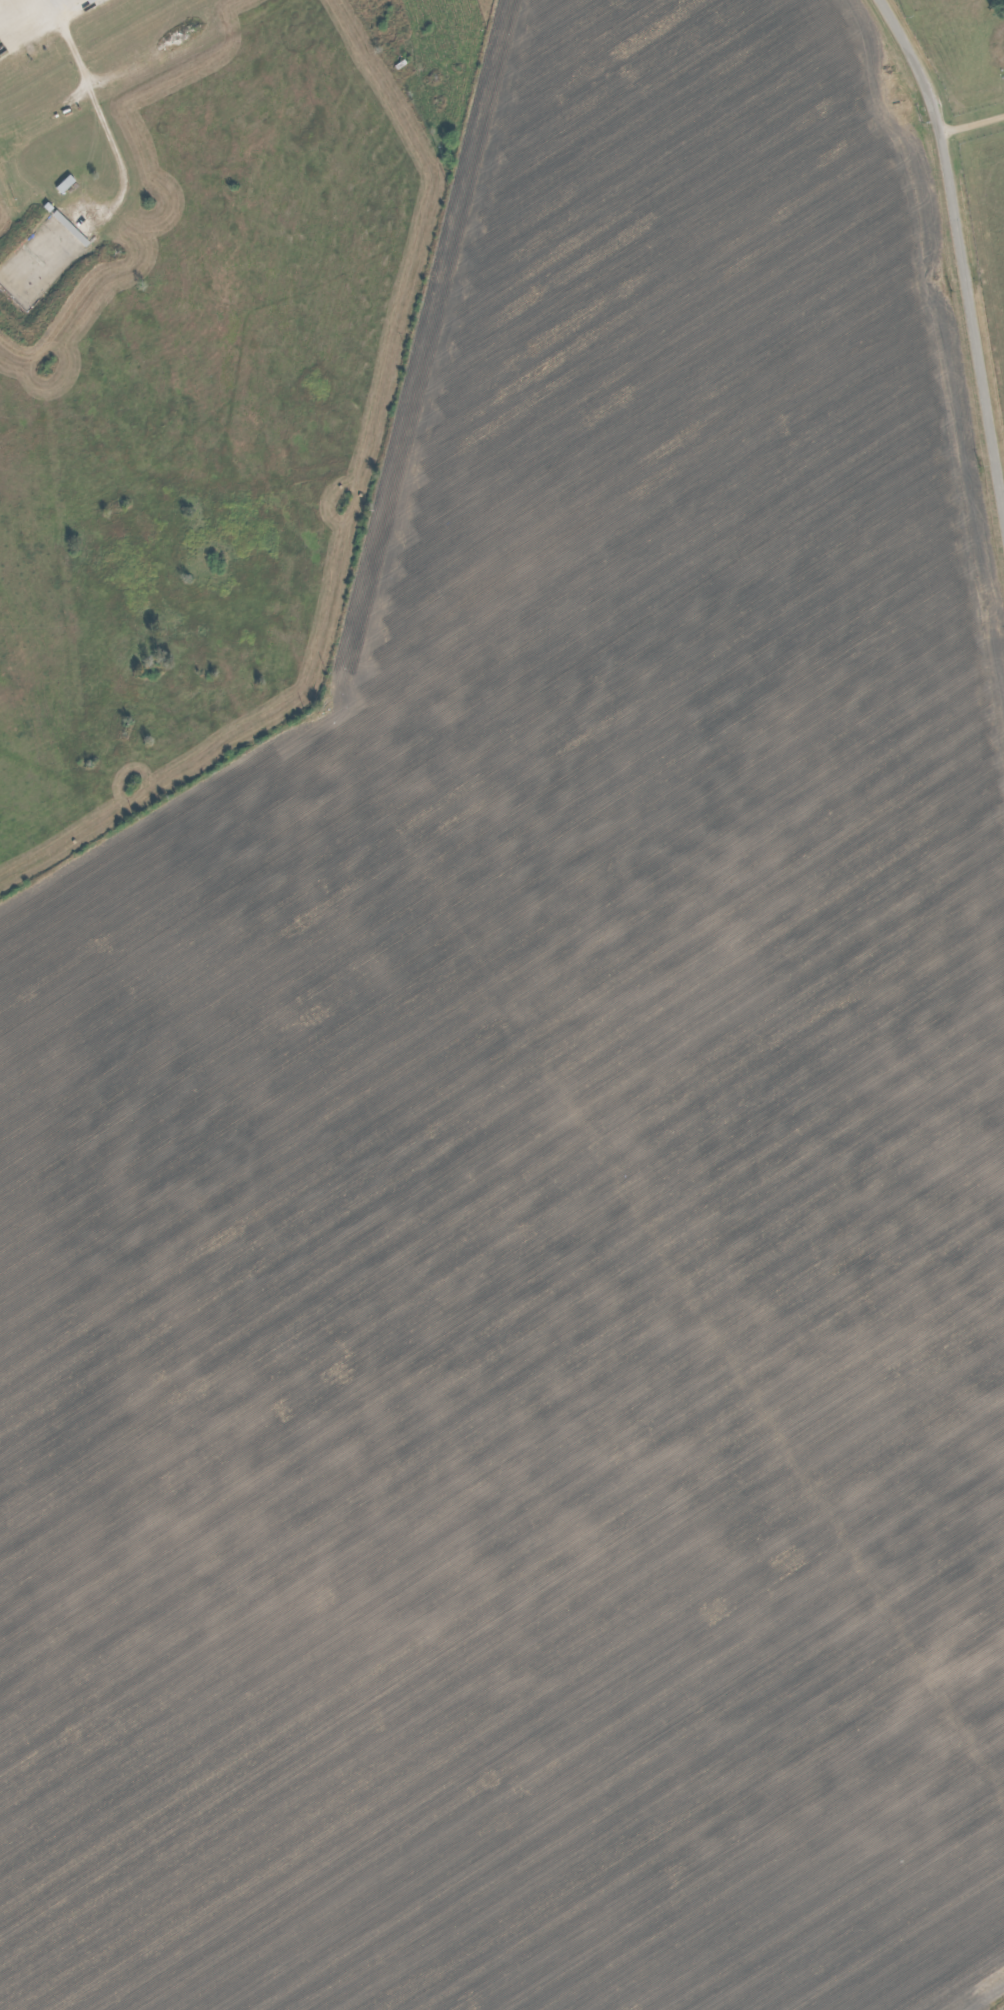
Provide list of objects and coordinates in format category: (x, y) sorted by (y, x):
building: (91, 1)
road: (961, 243)

